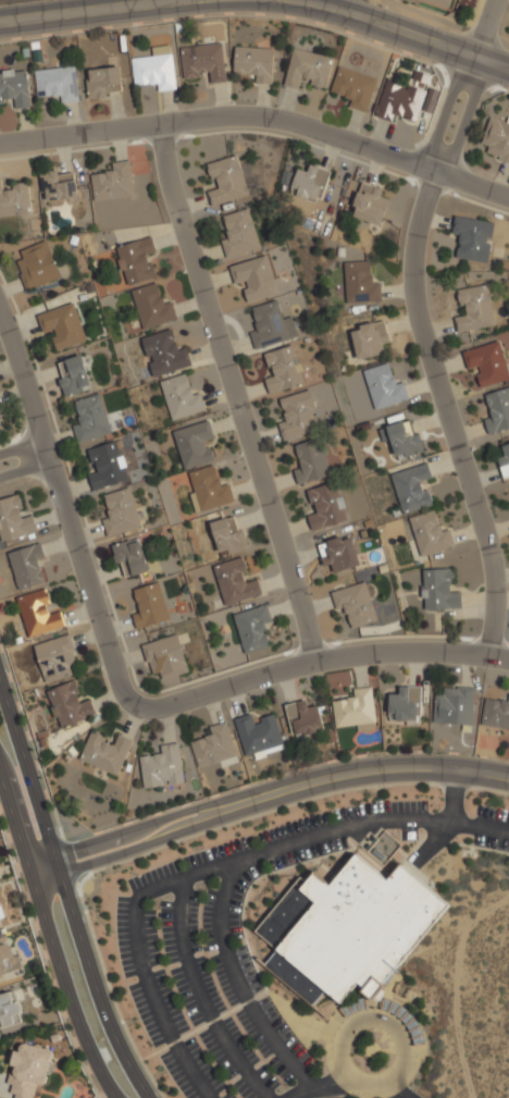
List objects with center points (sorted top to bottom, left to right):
building: (439, 2)
road: (91, 11)
road: (398, 30)
building: (206, 62)
building: (256, 63)
building: (309, 67)
building: (157, 69)
building: (104, 83)
building: (59, 84)
building: (15, 87)
building: (356, 87)
building: (401, 100)
road: (259, 118)
building: (497, 137)
building: (229, 182)
building: (114, 183)
building: (311, 183)
building: (60, 186)
building: (14, 200)
building: (370, 203)
building: (240, 234)
building: (475, 237)
building: (136, 261)
building: (37, 267)
building: (256, 277)
building: (361, 283)
building: (153, 308)
building: (476, 309)
building: (63, 324)
road: (424, 324)
building: (269, 325)
building: (371, 340)
building: (165, 354)
building: (488, 363)
building: (283, 369)
building: (75, 377)
building: (385, 387)
road: (237, 391)
building: (182, 398)
building: (497, 410)
building: (300, 417)
building: (92, 419)
building: (405, 439)
building: (195, 444)
road: (22, 447)
building: (505, 461)
building: (312, 462)
building: (108, 467)
road: (25, 470)
building: (413, 488)
building: (208, 490)
building: (327, 506)
building: (121, 514)
building: (14, 519)
building: (431, 533)
building: (228, 535)
building: (340, 553)
building: (131, 558)
building: (27, 565)
building: (236, 582)
building: (440, 591)
building: (356, 604)
building: (151, 606)
building: (39, 615)
building: (253, 628)
building: (55, 658)
building: (165, 661)
road: (122, 689)
building: (406, 704)
building: (70, 705)
building: (456, 706)
building: (356, 710)
building: (496, 714)
building: (305, 718)
building: (260, 736)
building: (215, 747)
building: (107, 753)
building: (163, 767)
road: (362, 768)
street lamp: (393, 790)
street lamp: (442, 806)
street lamp: (322, 812)
parking lot: (493, 814)
road: (450, 822)
road: (124, 827)
street lamp: (270, 827)
parking lot: (409, 835)
street lamp: (458, 838)
parking lot: (492, 843)
road: (129, 844)
street lamp: (206, 848)
street lamp: (313, 863)
road: (215, 867)
street lamp: (139, 875)
road: (66, 891)
street lamp: (259, 892)
street lamp: (199, 923)
building: (348, 930)
building: (0, 932)
road: (51, 934)
street lamp: (112, 936)
building: (9, 961)
road: (241, 990)
street lamp: (127, 994)
street lamp: (221, 994)
road: (201, 997)
building: (10, 1009)
street lamp: (152, 1049)
street lamp: (256, 1051)
building: (29, 1070)
road: (371, 1085)
road: (322, 1086)
road: (392, 1090)
street lamp: (417, 1091)
street lamp: (179, 1093)

